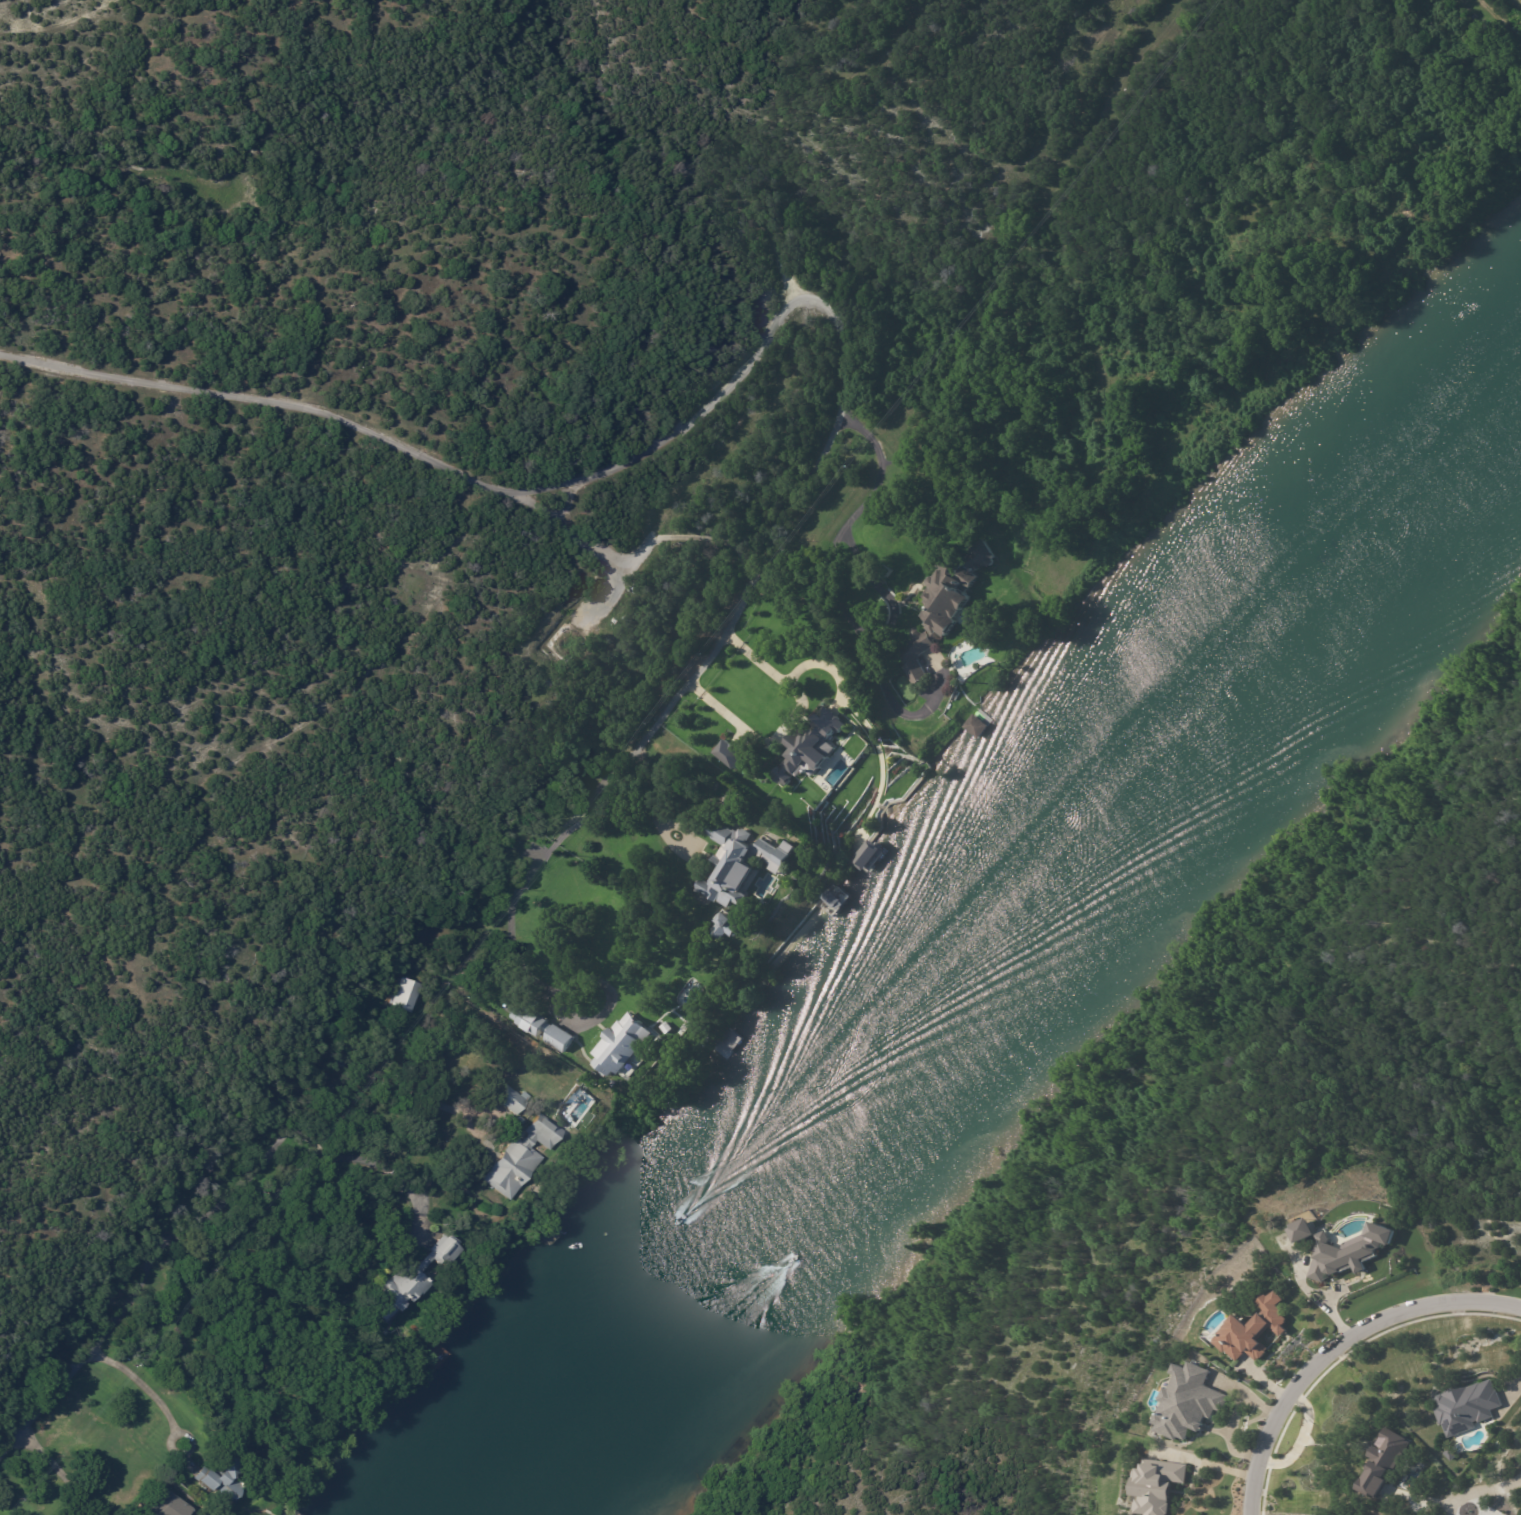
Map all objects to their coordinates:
road: (1520, 0)
road: (789, 305)
building: (987, 475)
road: (569, 501)
road: (826, 549)
road: (635, 551)
road: (878, 588)
building: (944, 605)
building: (563, 643)
road: (783, 720)
building: (973, 725)
building: (807, 745)
building: (728, 755)
road: (641, 794)
building: (865, 854)
building: (714, 862)
building: (738, 863)
building: (724, 926)
river: (983, 936)
building: (412, 992)
building: (544, 1027)
building: (669, 1028)
building: (625, 1044)
building: (349, 1055)
building: (513, 1098)
road: (322, 1103)
building: (519, 1120)
building: (522, 1158)
road: (321, 1164)
building: (1300, 1228)
building: (1348, 1252)
building: (417, 1278)
building: (1487, 1289)
road: (129, 1298)
building: (1252, 1330)
road: (1334, 1346)
building: (381, 1356)
road: (142, 1387)
building: (1186, 1401)
road: (1509, 1401)
building: (1465, 1405)
building: (1450, 1454)
building: (1382, 1462)
road: (1208, 1463)
road: (61, 1475)
building: (225, 1479)
building: (1155, 1485)
road: (1493, 1492)
building: (172, 1506)

